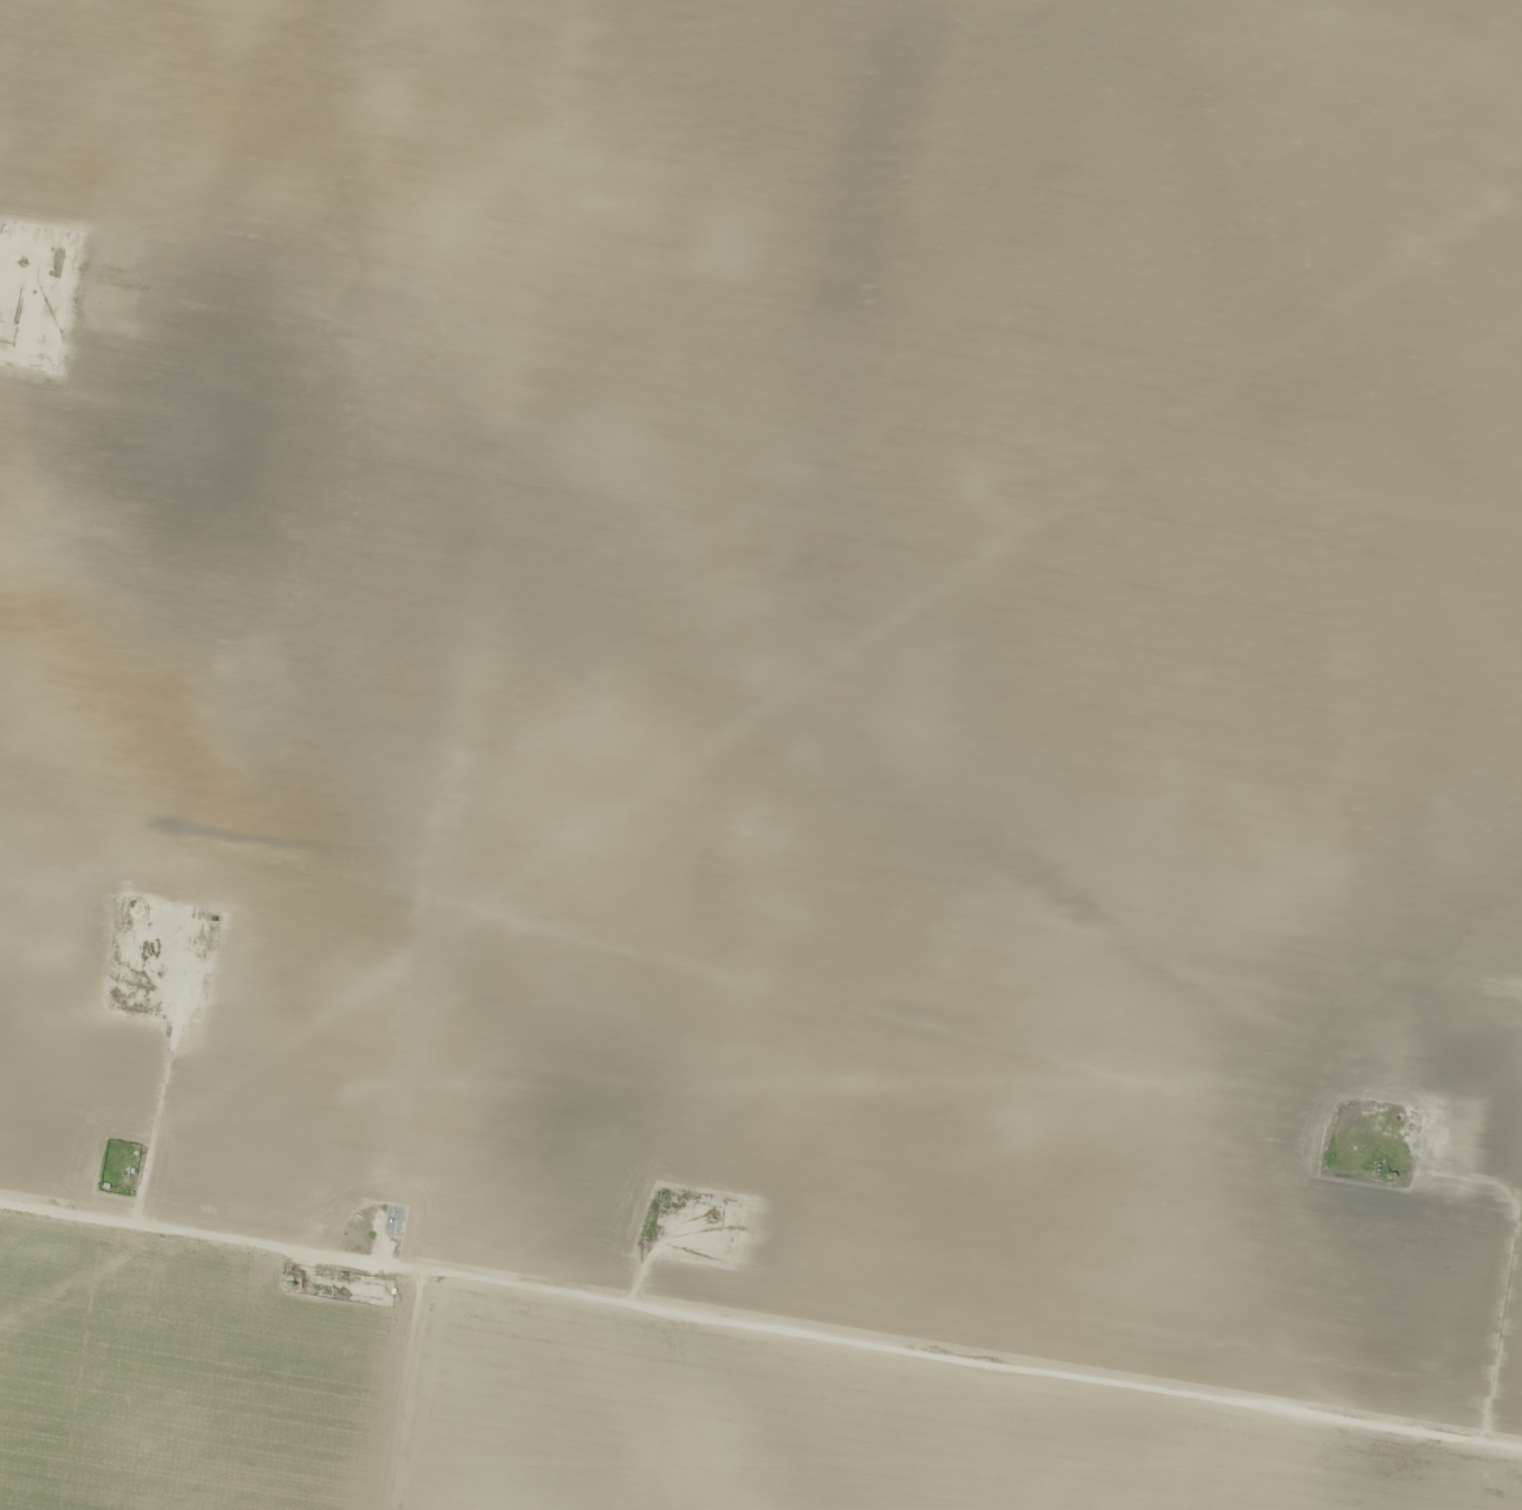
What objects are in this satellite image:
road: (761, 1323)

